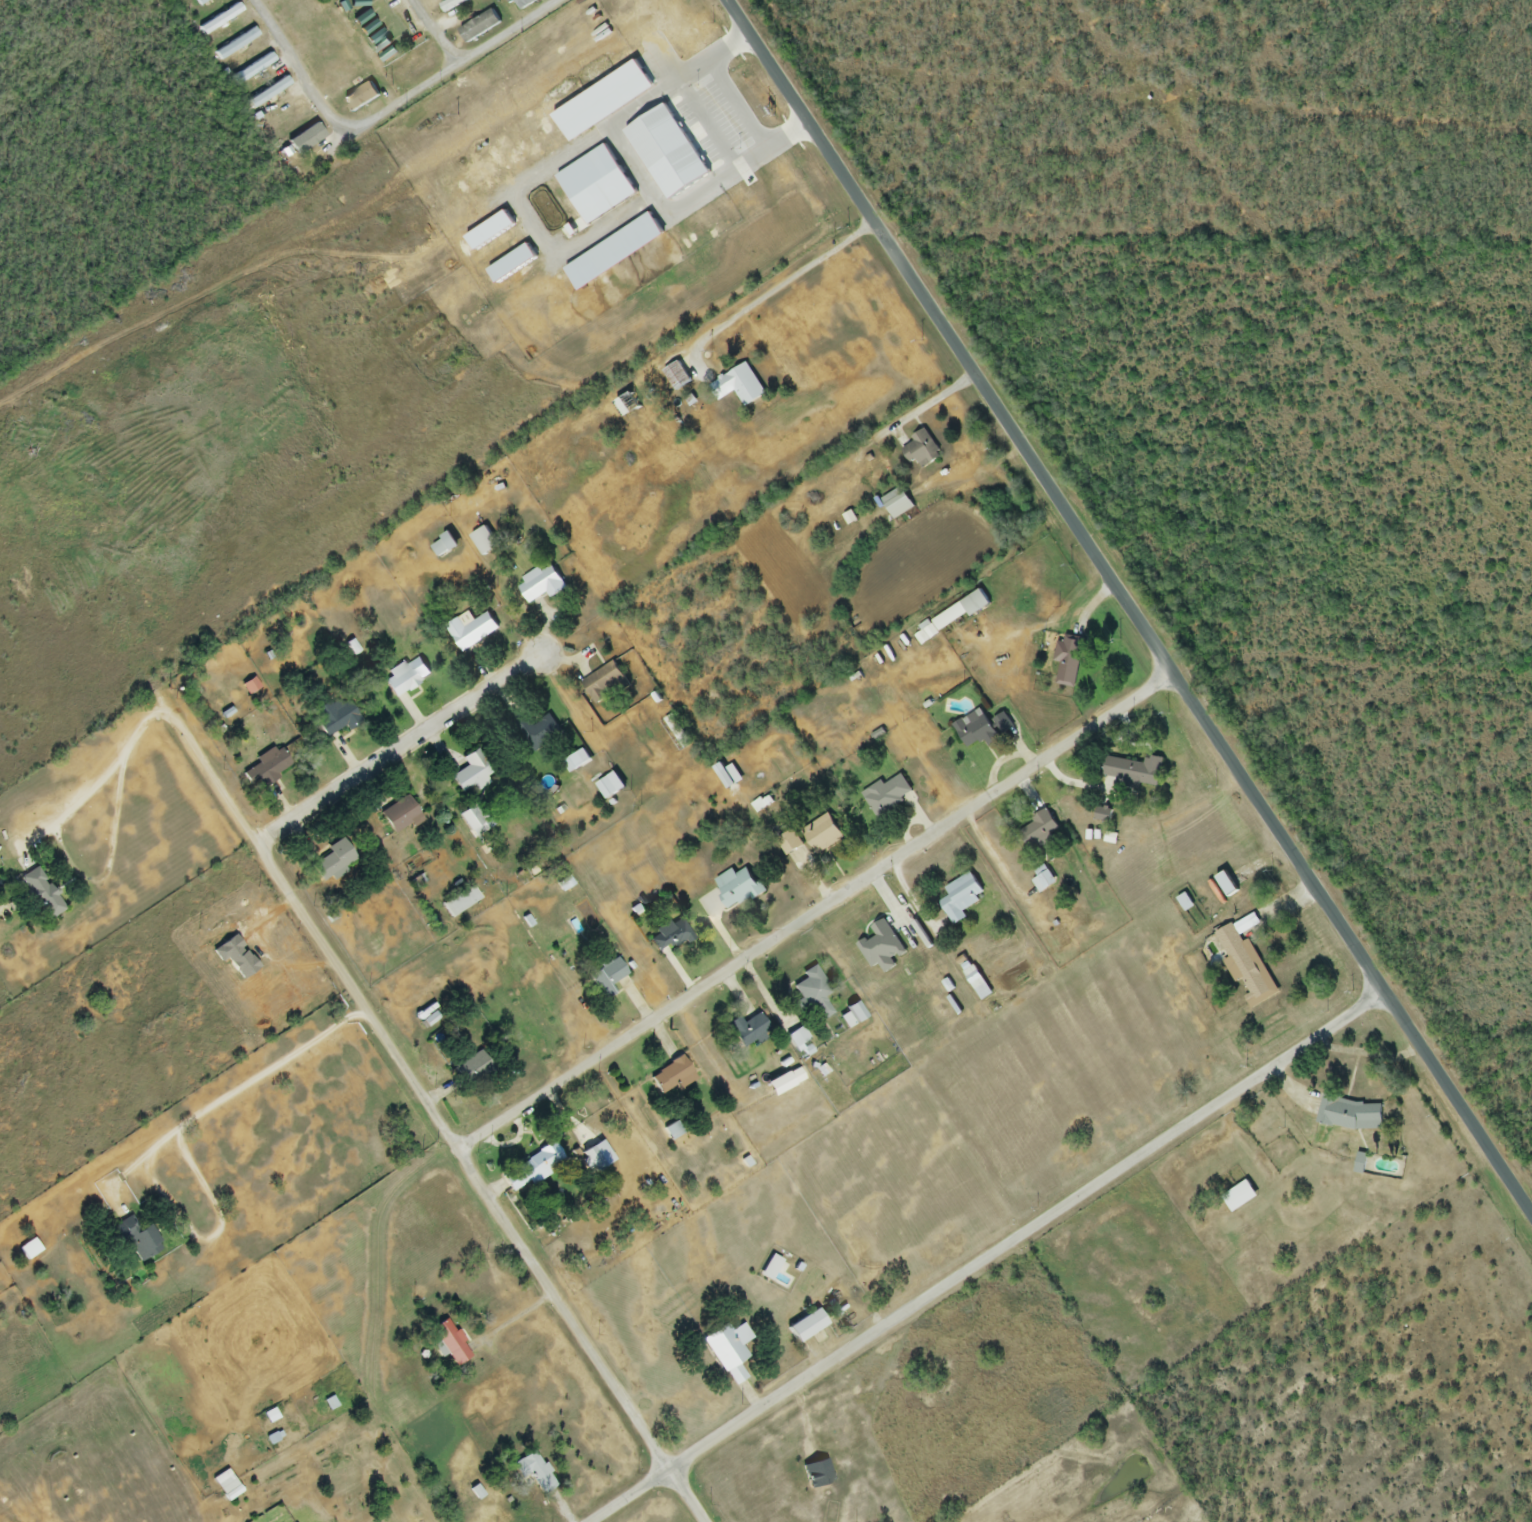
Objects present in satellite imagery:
building: (200, 2)
building: (447, 3)
building: (523, 3)
building: (360, 15)
building: (219, 19)
building: (366, 25)
building: (479, 27)
building: (373, 34)
road: (430, 34)
building: (380, 43)
building: (236, 44)
building: (406, 66)
building: (252, 69)
building: (261, 91)
building: (360, 97)
road: (384, 110)
road: (784, 281)
road: (944, 336)
building: (676, 376)
building: (740, 385)
building: (627, 405)
building: (920, 451)
building: (896, 503)
building: (484, 542)
building: (443, 546)
building: (541, 585)
building: (960, 612)
building: (469, 631)
building: (1069, 662)
building: (405, 677)
building: (604, 684)
building: (335, 718)
building: (1003, 724)
building: (974, 731)
building: (539, 733)
building: (674, 733)
road: (397, 751)
road: (108, 768)
building: (266, 769)
building: (1133, 771)
building: (472, 773)
building: (729, 777)
building: (886, 796)
building: (399, 816)
building: (475, 820)
building: (1038, 831)
building: (822, 834)
building: (788, 844)
road: (996, 858)
building: (333, 861)
building: (1043, 880)
building: (1226, 885)
building: (737, 889)
building: (40, 895)
road: (913, 898)
building: (960, 898)
building: (460, 902)
road: (812, 912)
building: (669, 936)
road: (1356, 946)
building: (881, 947)
building: (1245, 969)
building: (606, 975)
building: (811, 994)
building: (749, 1029)
building: (479, 1042)
building: (671, 1077)
road: (243, 1087)
road: (426, 1103)
building: (1349, 1115)
building: (531, 1169)
building: (1239, 1198)
building: (135, 1240)
building: (29, 1251)
road: (984, 1268)
building: (769, 1269)
building: (450, 1342)
building: (727, 1347)
building: (536, 1473)
building: (816, 1474)
building: (226, 1485)
building: (288, 1521)

